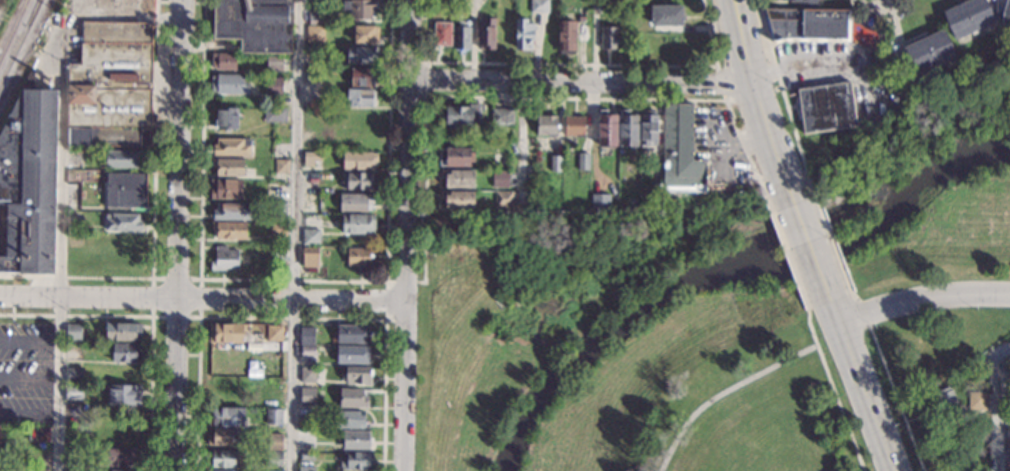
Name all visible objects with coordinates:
building: (312, 2)
building: (804, 2)
building: (596, 5)
building: (111, 6)
building: (540, 6)
building: (360, 8)
building: (583, 11)
railway: (32, 12)
building: (316, 15)
building: (666, 15)
building: (1006, 15)
building: (967, 17)
road: (876, 23)
building: (254, 24)
building: (806, 24)
railway: (13, 28)
building: (314, 33)
building: (442, 33)
building: (366, 34)
building: (495, 34)
building: (524, 34)
building: (567, 36)
building: (462, 37)
building: (609, 37)
railway: (19, 40)
road: (882, 44)
building: (929, 51)
building: (361, 54)
building: (223, 61)
building: (274, 63)
road: (575, 63)
road: (811, 63)
building: (312, 74)
building: (363, 76)
road: (428, 78)
building: (229, 83)
building: (274, 85)
road: (581, 85)
building: (110, 86)
road: (778, 86)
road: (756, 93)
road: (532, 96)
building: (359, 97)
road: (735, 97)
building: (826, 107)
building: (274, 114)
building: (463, 114)
building: (502, 116)
building: (226, 118)
building: (547, 125)
building: (575, 126)
building: (648, 127)
building: (608, 130)
building: (629, 130)
building: (356, 137)
road: (523, 144)
building: (231, 147)
building: (680, 151)
building: (458, 156)
building: (311, 158)
building: (122, 159)
building: (359, 160)
building: (500, 160)
building: (583, 160)
building: (556, 163)
building: (228, 166)
building: (281, 166)
building: (327, 175)
building: (459, 178)
building: (500, 179)
building: (359, 180)
building: (28, 182)
building: (225, 188)
building: (128, 189)
building: (503, 198)
building: (459, 200)
building: (600, 200)
building: (355, 201)
building: (630, 201)
building: (309, 203)
building: (653, 203)
building: (280, 207)
building: (231, 211)
road: (152, 214)
building: (122, 221)
building: (358, 224)
building: (278, 228)
park: (924, 228)
building: (231, 230)
road: (177, 235)
road: (293, 235)
road: (407, 235)
road: (829, 236)
building: (310, 237)
building: (122, 241)
road: (785, 247)
road: (810, 247)
road: (59, 249)
building: (278, 252)
building: (78, 256)
building: (310, 256)
building: (224, 258)
building: (359, 259)
river: (729, 265)
road: (152, 277)
road: (294, 279)
road: (386, 280)
road: (922, 297)
road: (203, 299)
park: (541, 302)
road: (865, 313)
road: (291, 316)
road: (151, 317)
building: (73, 331)
building: (123, 331)
building: (225, 331)
building: (274, 333)
building: (353, 333)
building: (307, 335)
road: (29, 341)
building: (308, 350)
building: (126, 352)
building: (226, 354)
building: (353, 354)
building: (275, 368)
parking lot: (26, 372)
building: (307, 374)
building: (75, 375)
building: (358, 376)
road: (28, 379)
building: (223, 385)
road: (831, 389)
building: (269, 390)
road: (864, 390)
building: (73, 392)
road: (722, 392)
building: (124, 394)
park: (708, 394)
building: (307, 395)
building: (353, 398)
road: (898, 399)
building: (976, 400)
building: (947, 404)
road: (996, 412)
road: (28, 415)
building: (225, 416)
building: (273, 416)
building: (350, 419)
building: (38, 433)
building: (1008, 433)
building: (119, 435)
building: (223, 436)
building: (355, 439)
building: (0, 441)
building: (275, 441)
park: (955, 450)
building: (40, 453)
building: (73, 455)
building: (115, 456)
building: (306, 456)
building: (1008, 456)
building: (223, 458)
building: (274, 458)
building: (355, 460)
building: (306, 468)
building: (39, 469)
building: (122, 470)
building: (222, 470)

